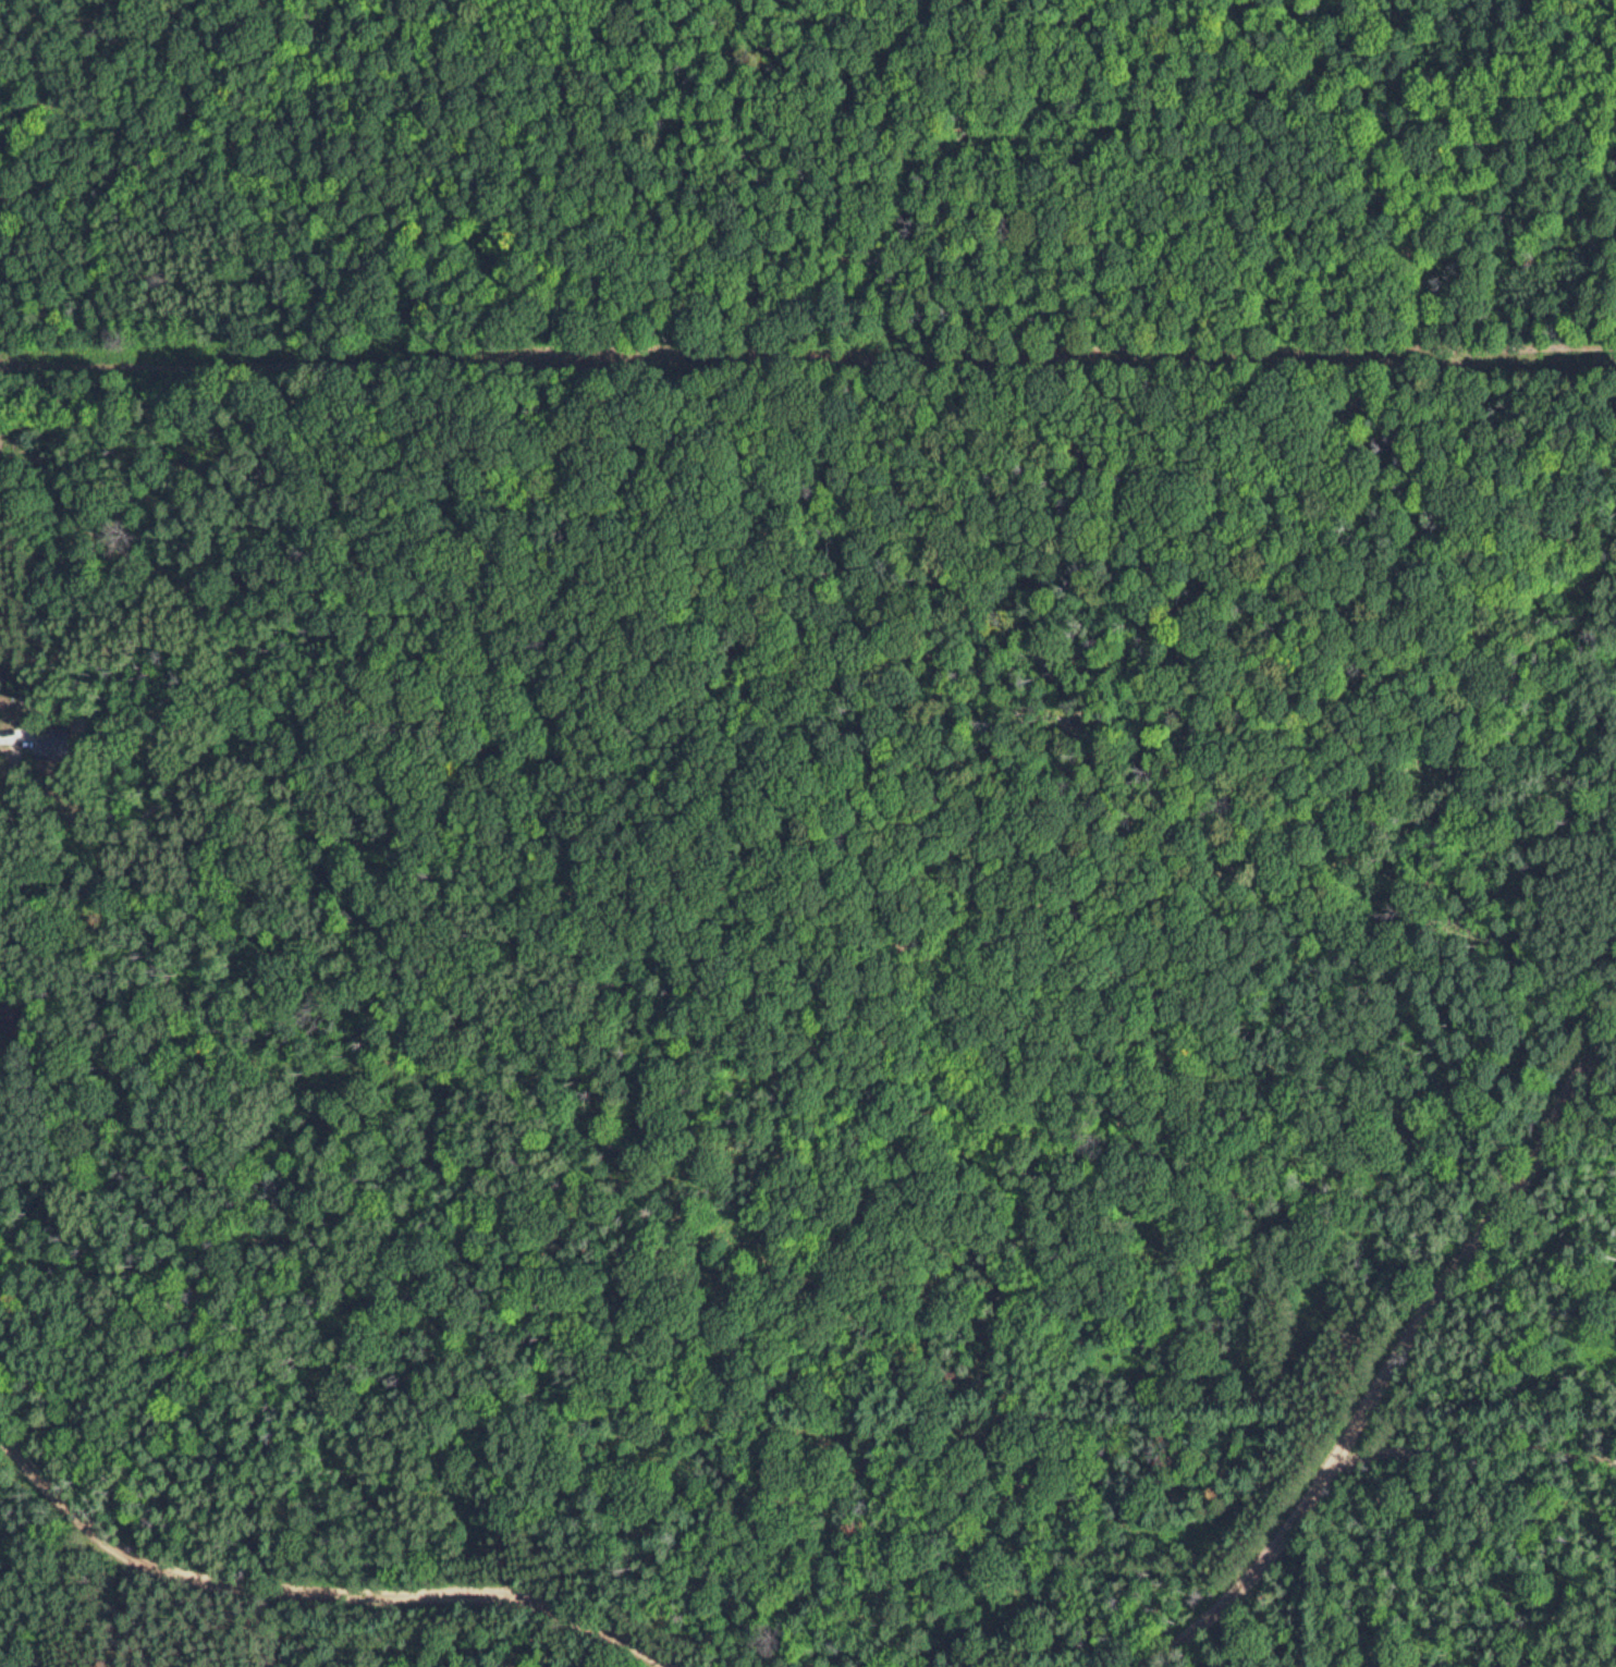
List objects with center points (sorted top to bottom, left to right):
building: (56, 741)
road: (25, 782)
building: (13, 1014)
road: (57, 1030)
road: (1389, 1365)
road: (1470, 1454)
road: (314, 1590)

